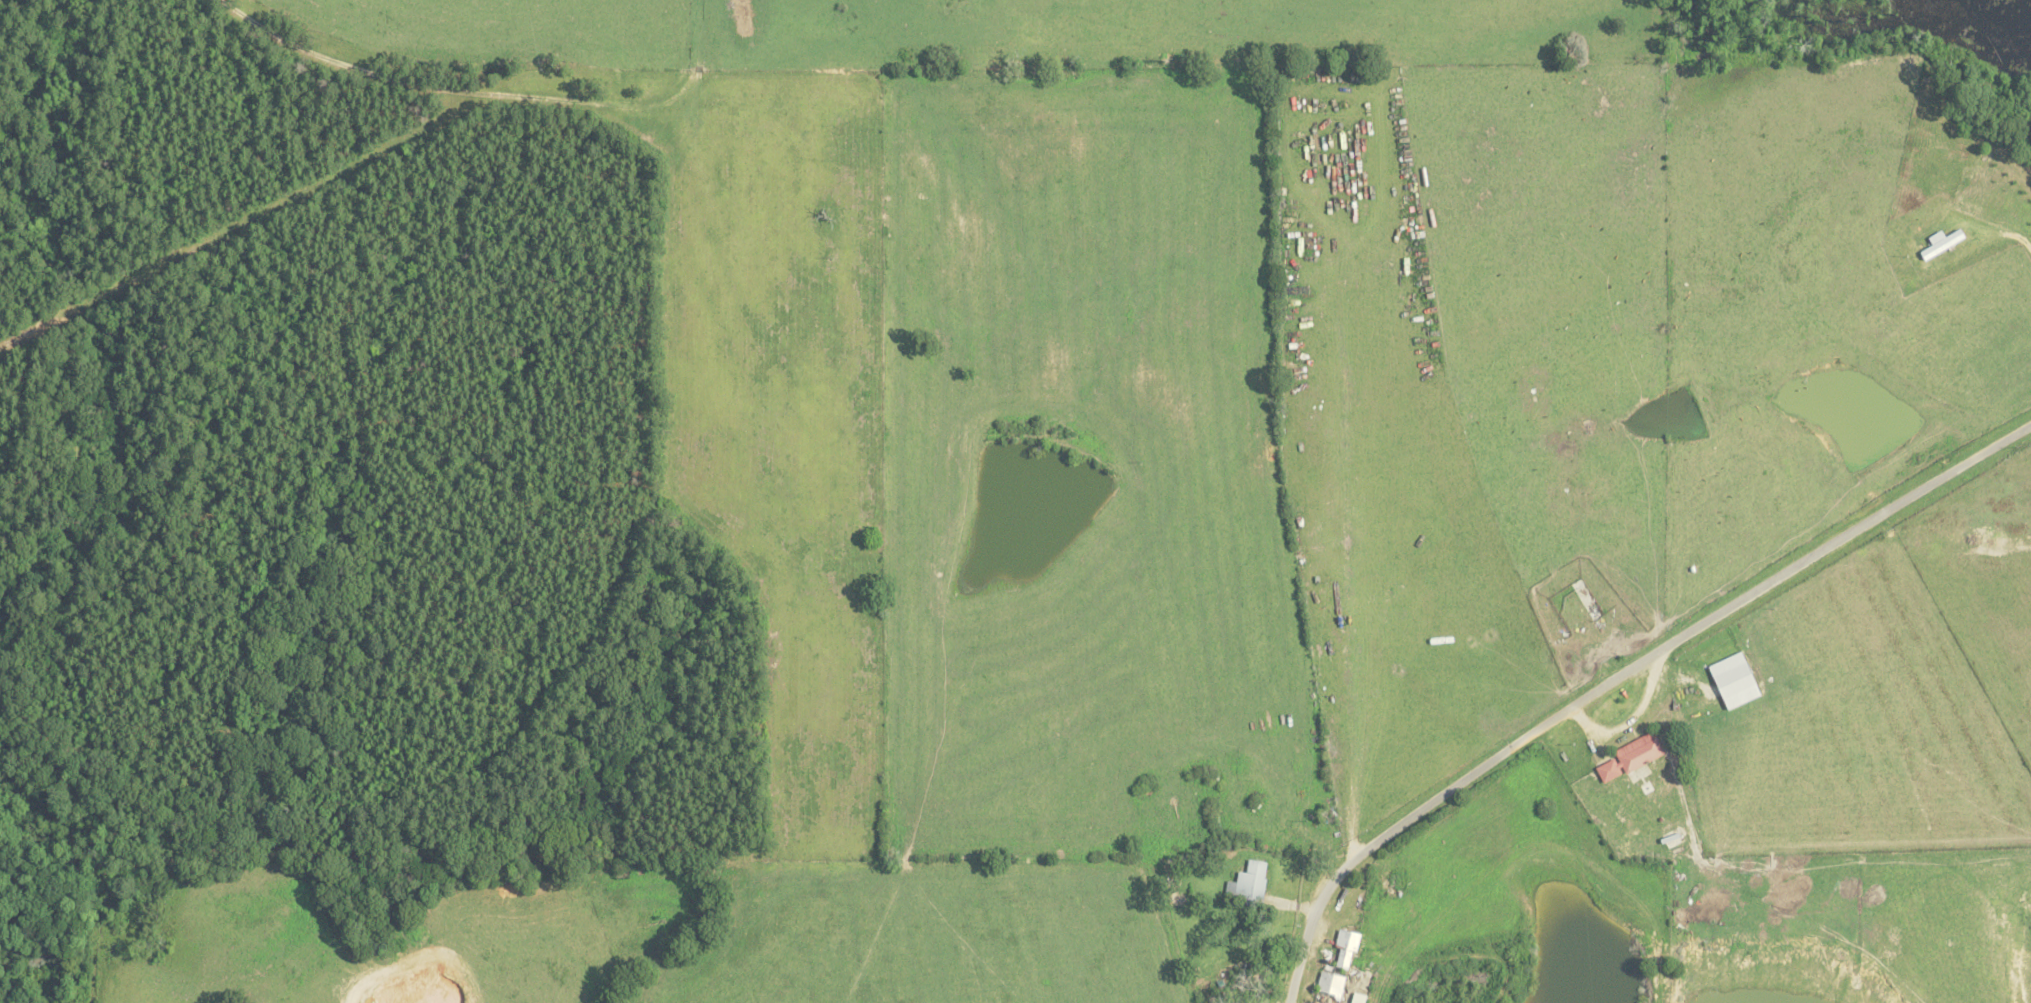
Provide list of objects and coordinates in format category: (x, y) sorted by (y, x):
road: (1619, 678)
building: (1730, 680)
building: (1628, 756)
building: (1246, 883)
building: (1342, 948)
building: (1327, 984)

